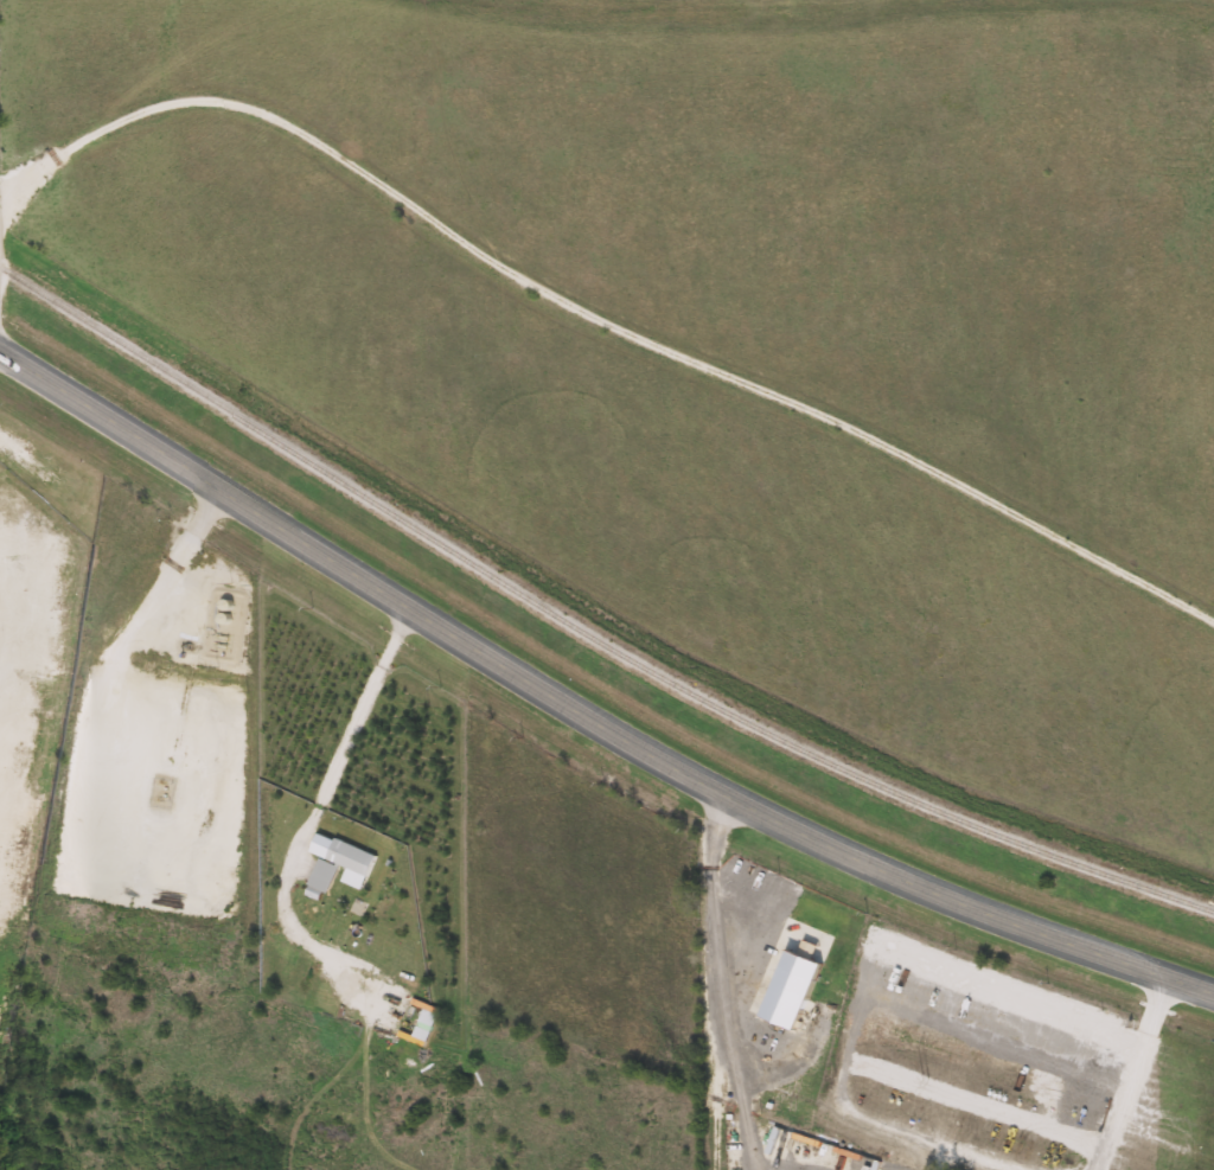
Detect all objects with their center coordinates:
road: (598, 324)
road: (34, 462)
railway: (584, 632)
road: (584, 716)
road: (325, 753)
building: (341, 863)
road: (711, 983)
road: (1035, 1009)
building: (786, 1136)
road: (754, 1169)
road: (760, 1169)

